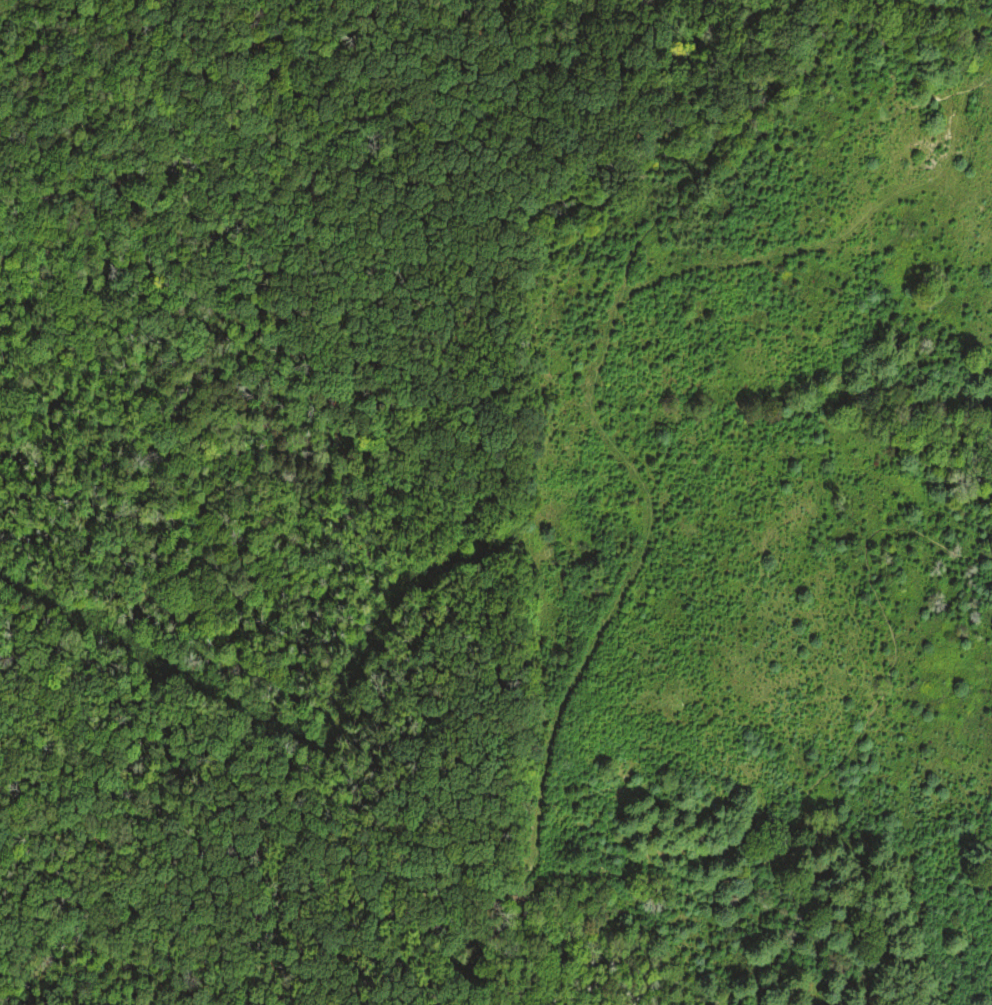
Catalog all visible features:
road: (812, 40)
road: (648, 99)
road: (639, 553)
road: (32, 675)
road: (807, 790)
road: (141, 798)
road: (354, 874)
road: (193, 880)
road: (141, 882)

